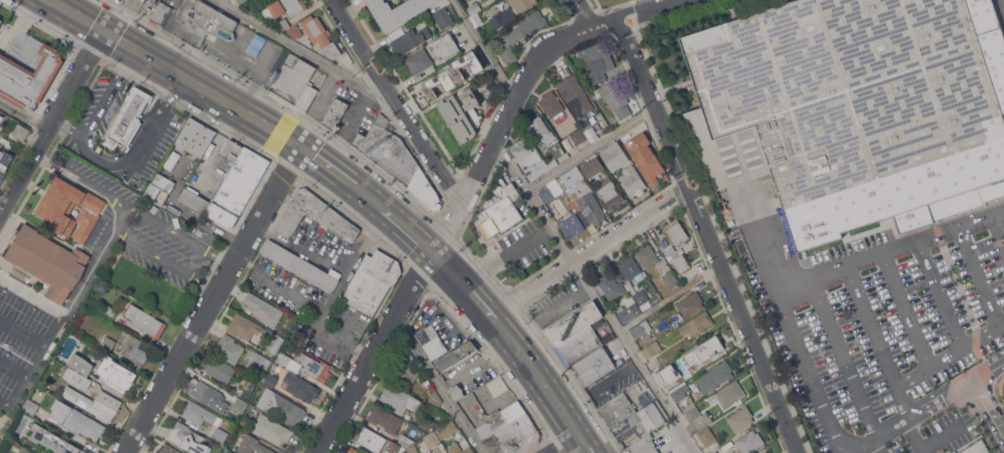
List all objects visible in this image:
building: (143, 0)
building: (481, 0)
building: (484, 0)
road: (1003, 0)
building: (118, 1)
building: (244, 2)
road: (61, 4)
road: (71, 4)
building: (284, 8)
road: (645, 8)
building: (396, 11)
building: (512, 11)
road: (583, 11)
building: (475, 12)
parking lot: (999, 12)
building: (160, 13)
building: (443, 17)
road: (604, 18)
building: (0, 19)
building: (213, 19)
building: (0, 20)
building: (283, 24)
road: (347, 24)
road: (577, 26)
road: (595, 29)
building: (295, 31)
building: (520, 34)
building: (323, 38)
building: (409, 40)
building: (256, 45)
building: (444, 45)
road: (301, 49)
road: (483, 49)
building: (280, 61)
building: (419, 61)
road: (370, 63)
building: (598, 64)
building: (450, 75)
building: (29, 77)
road: (185, 77)
building: (292, 80)
road: (384, 85)
building: (575, 95)
building: (306, 97)
building: (615, 98)
road: (652, 102)
building: (552, 105)
building: (854, 110)
building: (335, 113)
building: (462, 113)
road: (23, 116)
building: (1, 117)
building: (127, 117)
road: (53, 119)
road: (70, 126)
building: (538, 129)
building: (20, 131)
building: (591, 134)
building: (195, 136)
building: (577, 136)
road: (496, 139)
road: (217, 144)
road: (425, 148)
road: (591, 148)
building: (520, 149)
building: (556, 149)
building: (388, 150)
building: (614, 156)
building: (645, 157)
road: (99, 160)
building: (4, 163)
road: (329, 165)
building: (592, 167)
building: (535, 170)
building: (227, 176)
building: (632, 180)
building: (163, 182)
road: (90, 186)
building: (238, 186)
building: (426, 191)
building: (551, 191)
building: (610, 193)
building: (581, 196)
road: (372, 197)
building: (603, 204)
building: (70, 208)
building: (499, 209)
building: (314, 215)
building: (571, 224)
road: (999, 228)
road: (215, 230)
road: (412, 231)
building: (676, 232)
road: (180, 235)
road: (889, 251)
road: (590, 252)
building: (647, 255)
building: (677, 259)
road: (165, 260)
building: (48, 261)
building: (301, 267)
building: (631, 268)
road: (86, 275)
road: (978, 277)
building: (669, 278)
building: (371, 282)
road: (466, 283)
building: (609, 286)
road: (939, 294)
road: (598, 296)
road: (33, 297)
road: (213, 299)
building: (633, 303)
building: (690, 303)
road: (311, 306)
building: (115, 308)
building: (263, 309)
road: (905, 310)
road: (743, 320)
building: (145, 321)
parking lot: (880, 322)
building: (696, 324)
road: (1001, 324)
building: (244, 326)
building: (640, 329)
building: (576, 334)
building: (427, 336)
road: (876, 341)
building: (275, 343)
building: (108, 344)
road: (963, 345)
building: (229, 348)
building: (135, 349)
building: (651, 349)
building: (436, 350)
building: (701, 350)
road: (375, 351)
building: (456, 356)
building: (283, 358)
road: (843, 358)
building: (257, 360)
building: (81, 364)
road: (36, 365)
building: (595, 365)
building: (55, 366)
building: (311, 366)
building: (220, 369)
building: (64, 370)
building: (409, 372)
building: (117, 373)
building: (666, 373)
road: (539, 377)
building: (714, 377)
road: (912, 377)
building: (79, 379)
building: (269, 379)
road: (438, 386)
building: (245, 387)
building: (301, 387)
building: (457, 391)
building: (680, 393)
building: (730, 393)
building: (210, 396)
building: (400, 399)
building: (435, 399)
building: (84, 401)
building: (240, 404)
road: (5, 405)
building: (109, 406)
building: (281, 406)
building: (29, 407)
building: (62, 409)
building: (617, 409)
road: (986, 410)
building: (692, 413)
building: (200, 414)
building: (502, 418)
building: (740, 418)
building: (385, 419)
building: (647, 420)
building: (427, 423)
building: (85, 424)
building: (272, 429)
building: (447, 429)
building: (220, 434)
building: (517, 435)
building: (706, 436)
road: (912, 436)
road: (941, 437)
building: (188, 438)
building: (370, 439)
building: (431, 439)
building: (54, 440)
building: (405, 441)
building: (749, 441)
building: (253, 445)
road: (568, 445)
road: (587, 445)
road: (852, 445)
building: (643, 446)
road: (876, 446)
building: (392, 447)
road: (841, 447)
building: (412, 448)
building: (976, 448)
building: (169, 449)
building: (460, 449)
building: (354, 450)
building: (28, 451)
building: (230, 452)
building: (731, 452)
building: (766, 452)
building: (953, 452)

